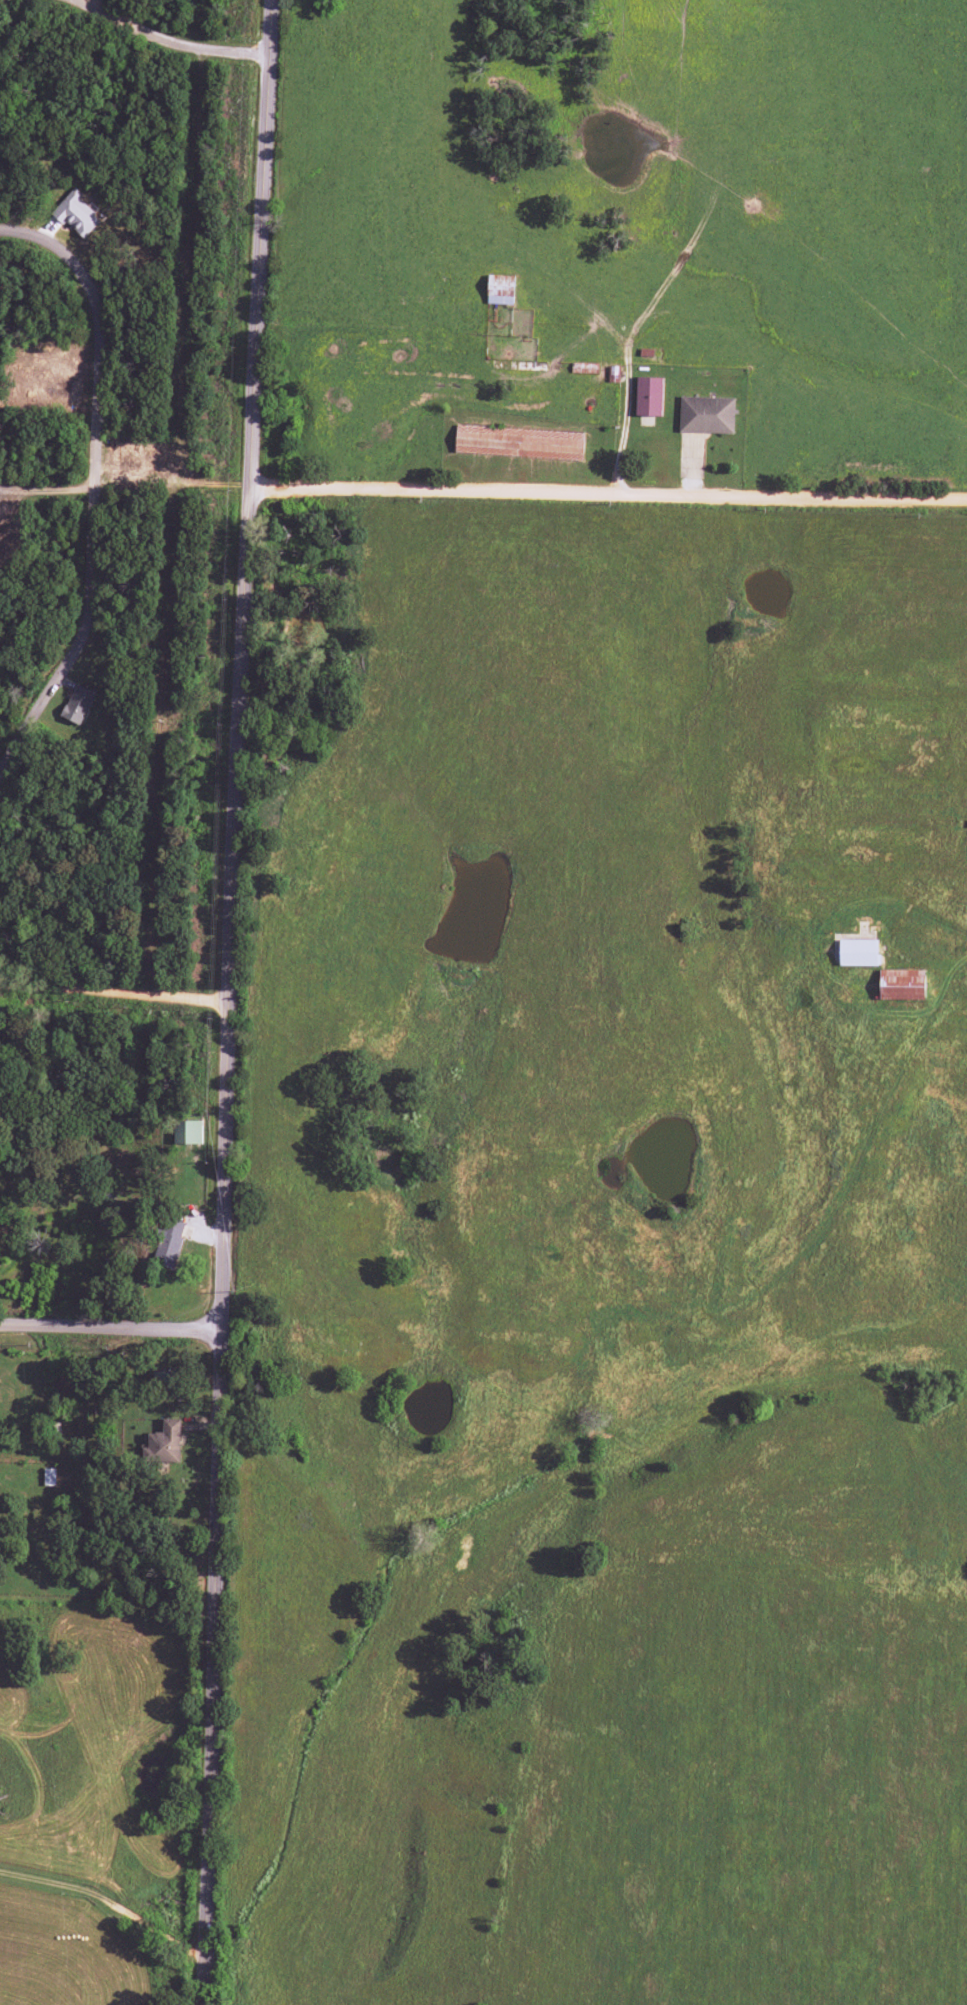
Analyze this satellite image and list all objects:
road: (1, 0)
road: (99, 4)
road: (168, 41)
building: (76, 214)
road: (262, 243)
building: (500, 290)
building: (648, 396)
building: (706, 415)
building: (518, 442)
road: (98, 490)
road: (48, 493)
road: (609, 493)
building: (78, 704)
road: (236, 800)
building: (857, 953)
building: (901, 984)
road: (113, 993)
building: (187, 1132)
building: (169, 1243)
road: (108, 1326)
building: (163, 1443)
building: (49, 1477)
road: (211, 1560)
road: (106, 1899)

